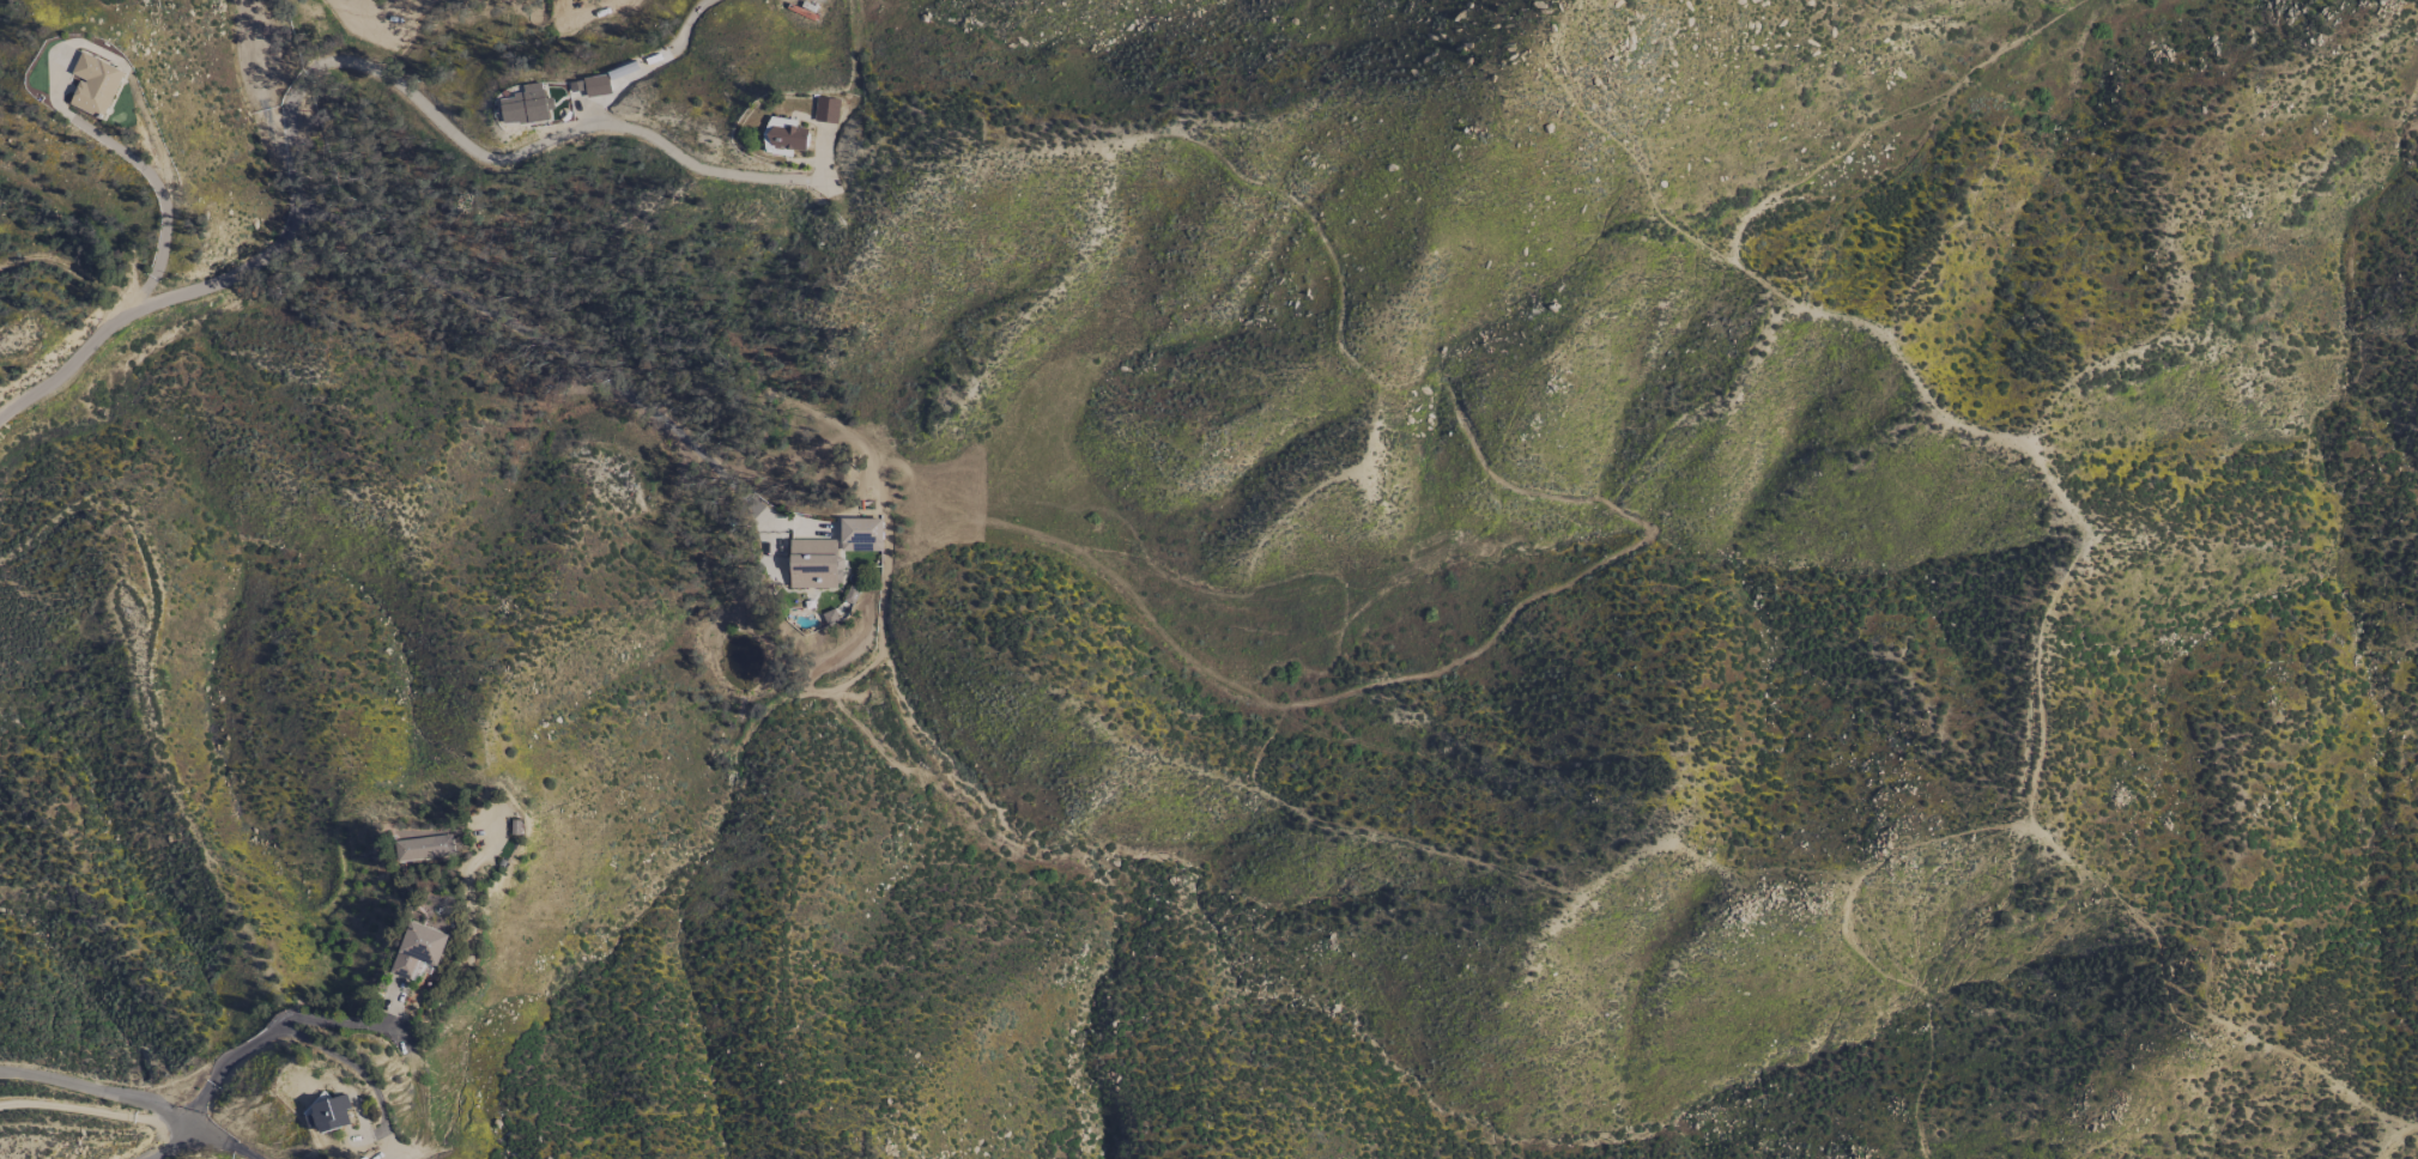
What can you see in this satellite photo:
building: (93, 84)
building: (595, 85)
building: (526, 105)
building: (825, 110)
building: (783, 136)
road: (551, 139)
road: (147, 177)
road: (213, 285)
road: (538, 338)
building: (813, 563)
building: (424, 848)
building: (417, 949)
road: (280, 1024)
road: (345, 1062)
road: (98, 1091)
road: (95, 1111)
building: (328, 1112)
road: (165, 1143)
road: (223, 1143)

